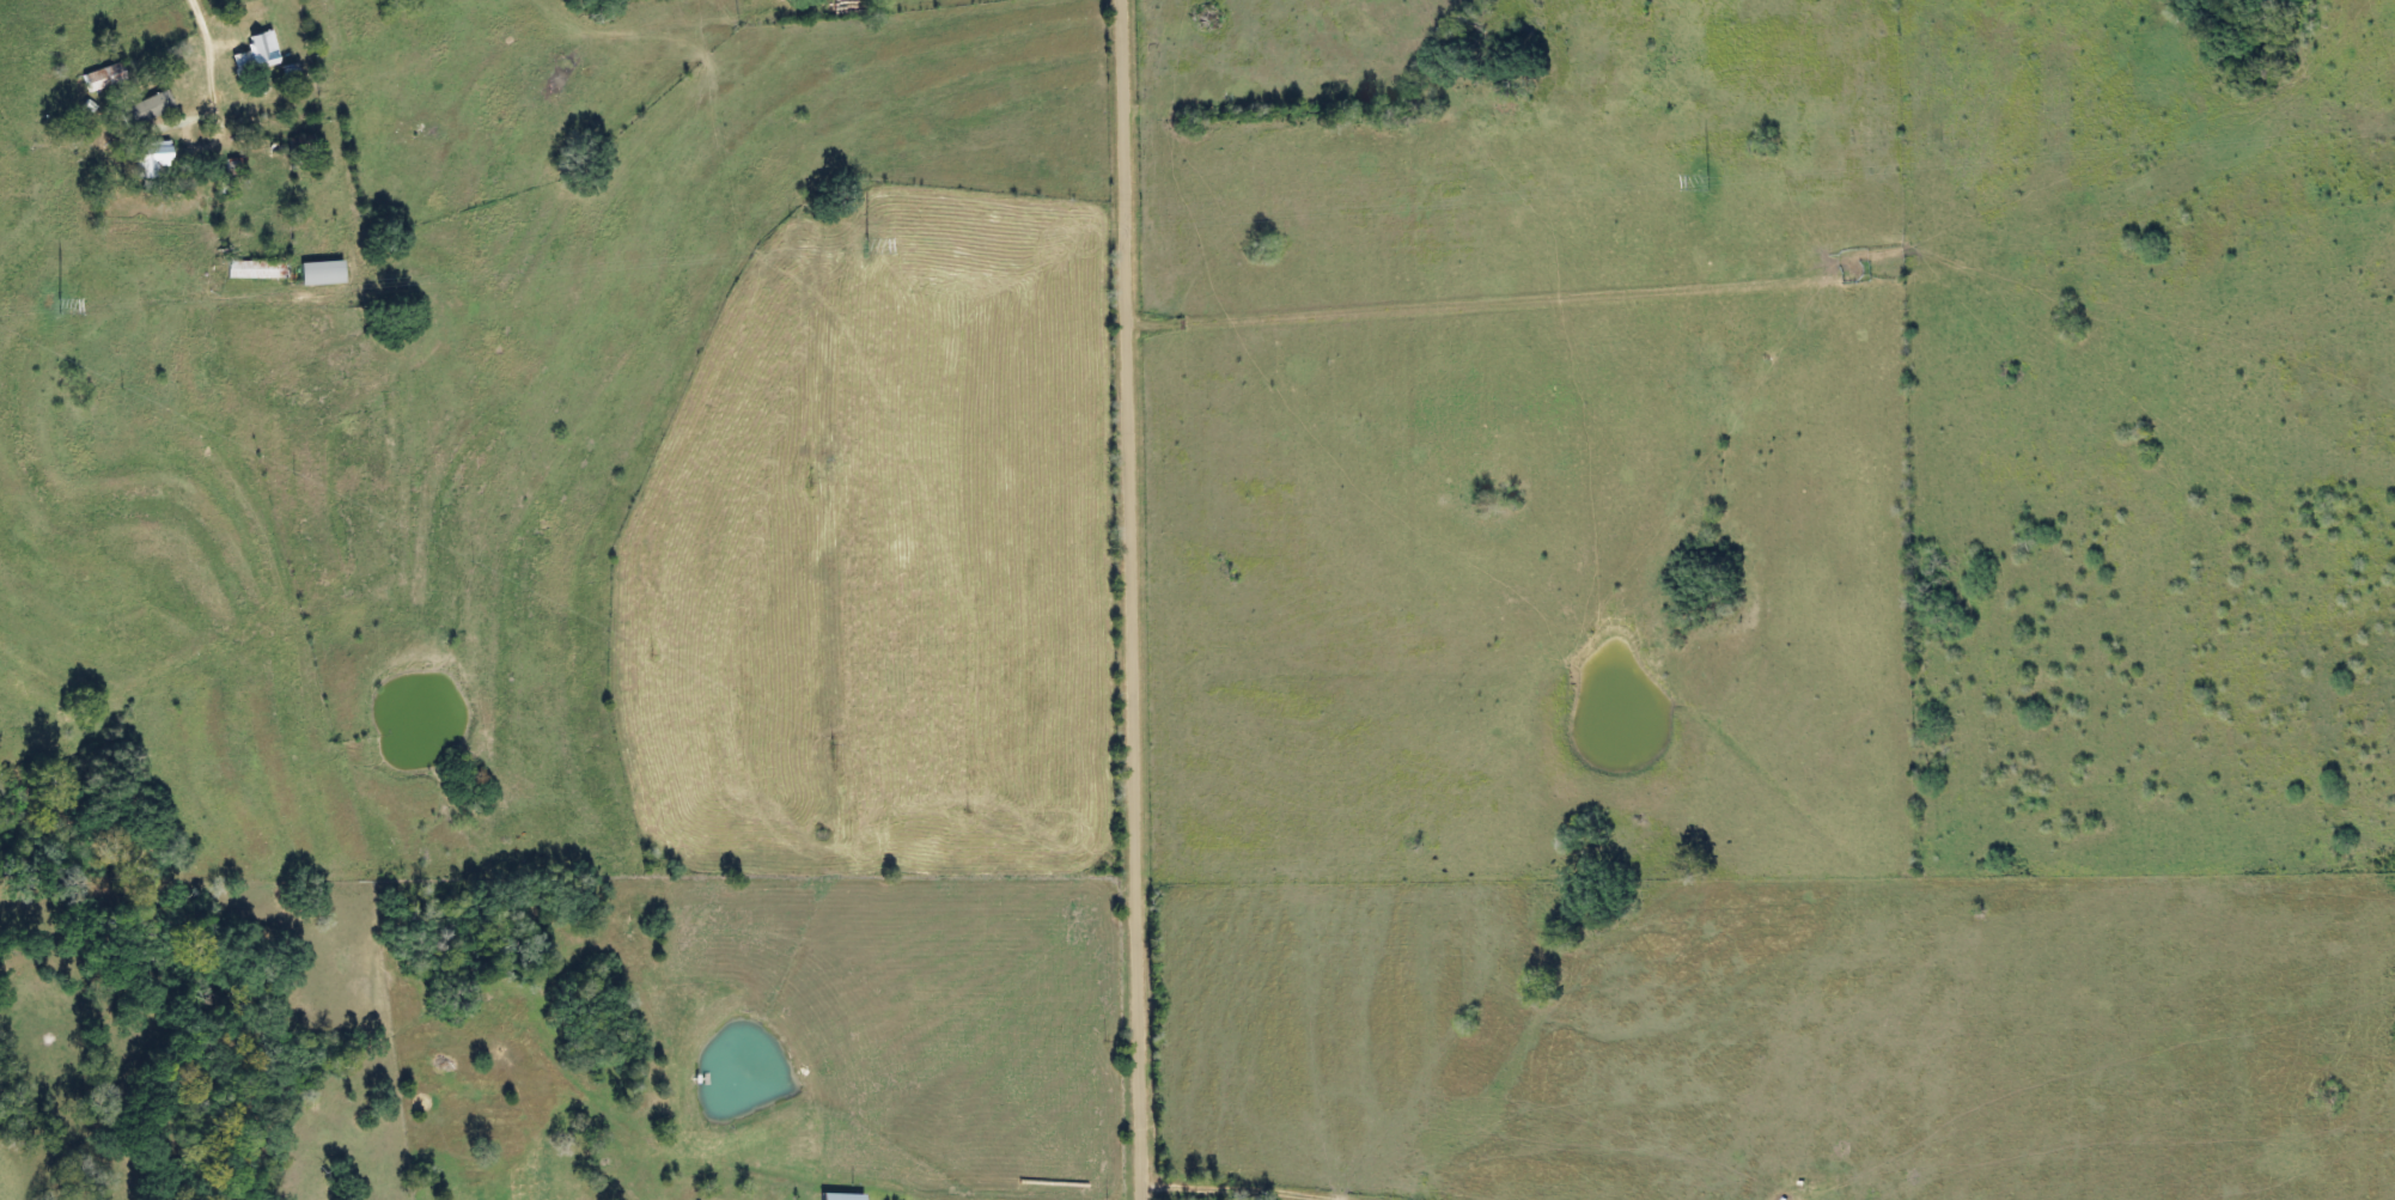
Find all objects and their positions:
building: (260, 53)
road: (223, 63)
building: (292, 71)
building: (106, 75)
building: (151, 111)
building: (304, 144)
building: (154, 154)
power tower: (1710, 184)
power tower: (869, 245)
building: (258, 268)
building: (324, 272)
power tower: (59, 305)
road: (1135, 599)
road: (26, 1174)
building: (843, 1196)

